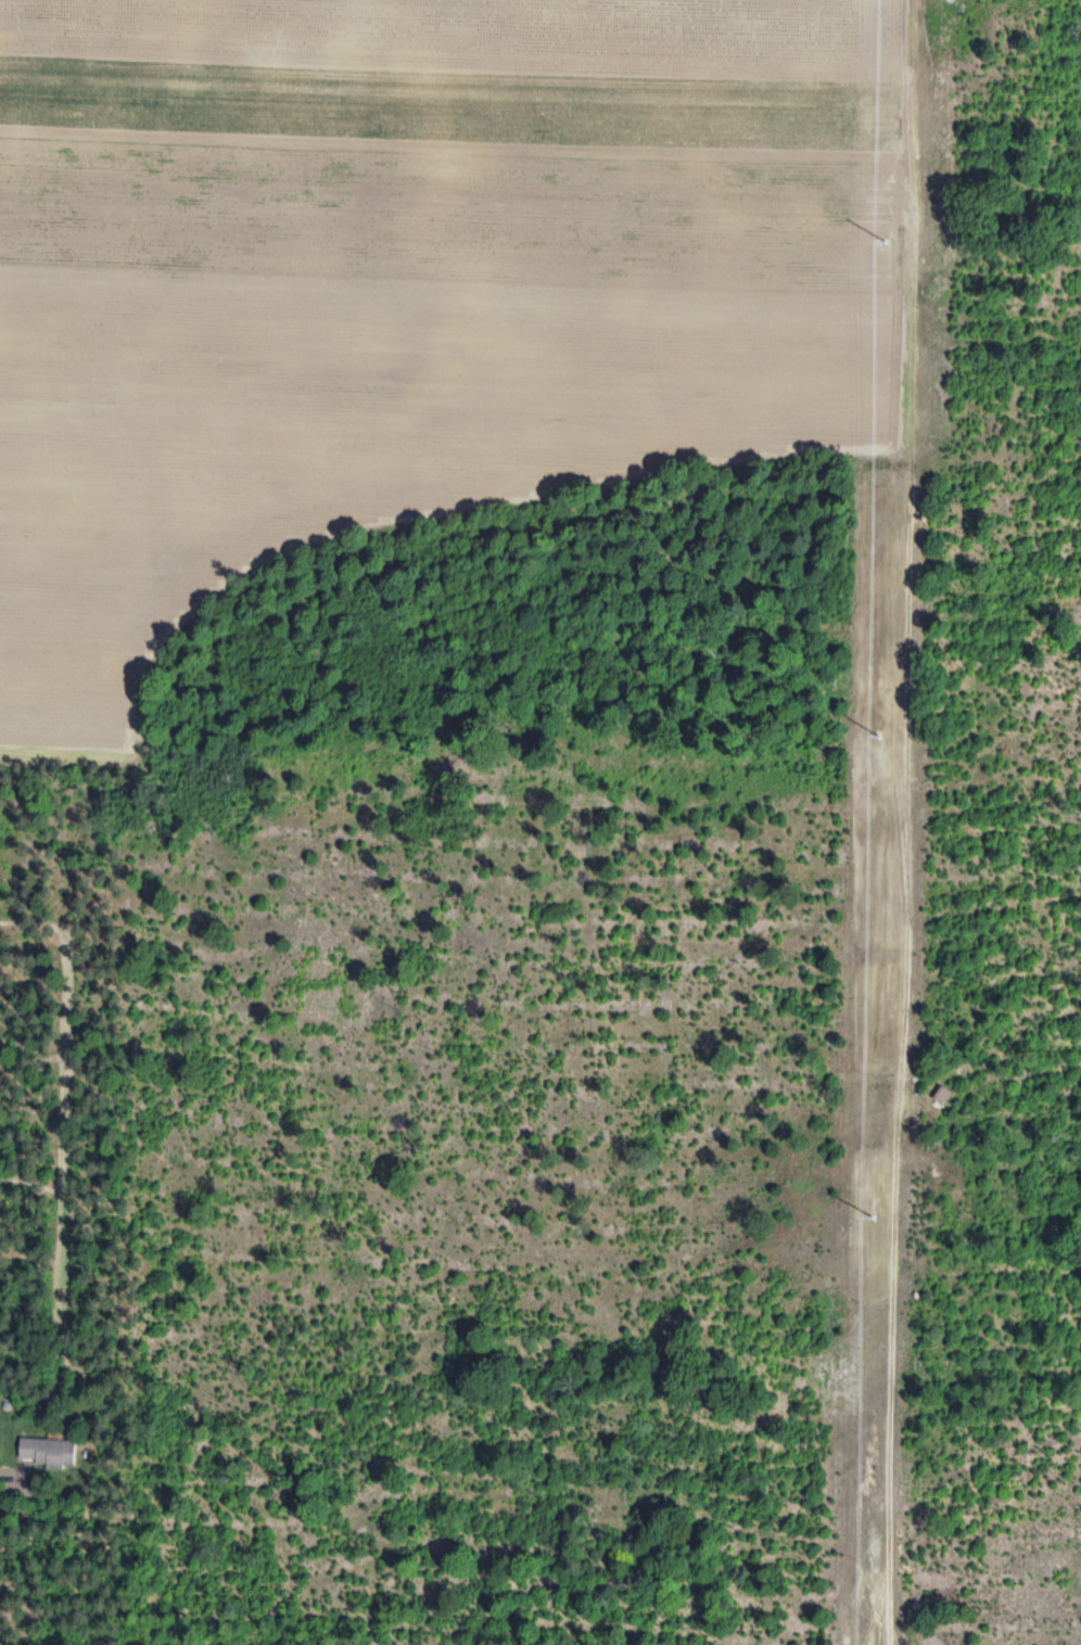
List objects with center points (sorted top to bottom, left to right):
building: (48, 1454)

